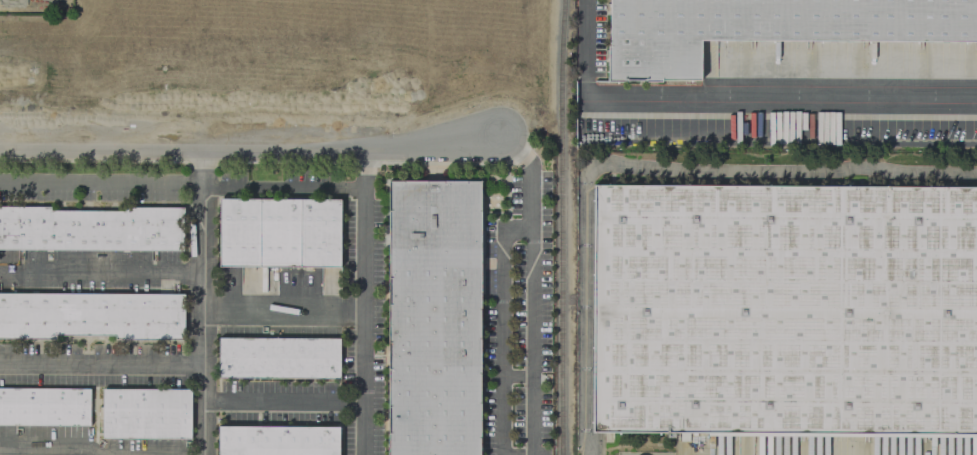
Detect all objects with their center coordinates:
building: (768, 27)
building: (313, 42)
road: (735, 99)
road: (249, 152)
road: (639, 174)
road: (182, 182)
railway: (564, 227)
building: (91, 228)
building: (279, 233)
road: (202, 258)
road: (101, 272)
road: (535, 286)
road: (364, 303)
building: (783, 307)
road: (283, 313)
building: (91, 315)
building: (435, 316)
road: (501, 327)
building: (278, 358)
road: (147, 365)
road: (518, 375)
road: (284, 401)
building: (44, 406)
building: (145, 413)
building: (276, 440)
railway: (601, 446)
road: (52, 448)

